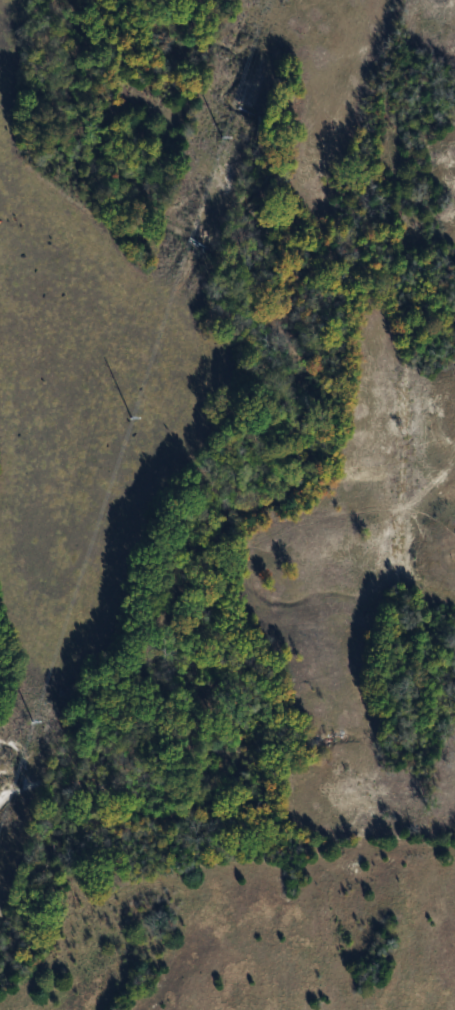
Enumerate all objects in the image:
power tower: (228, 144)
power tower: (144, 410)
power tower: (51, 705)

